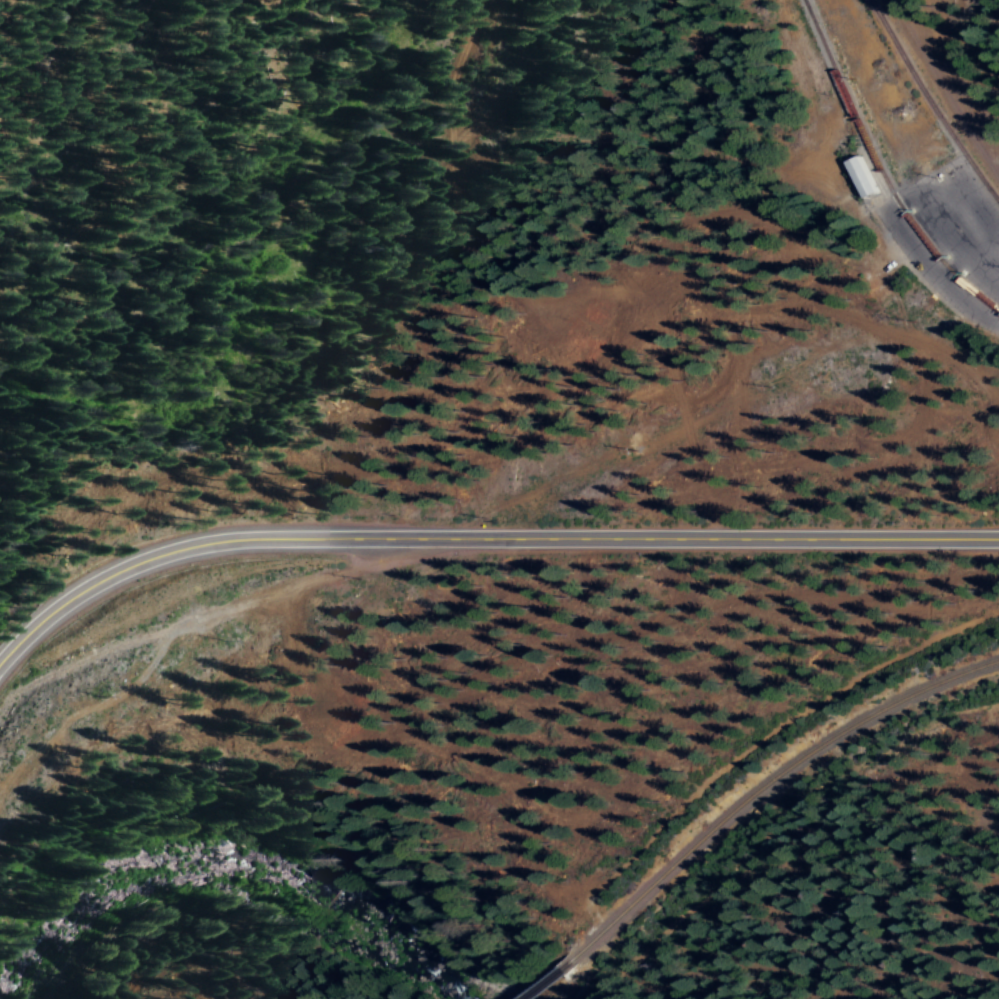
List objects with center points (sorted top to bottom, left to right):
railway: (931, 102)
railway: (881, 169)
building: (858, 175)
road: (932, 267)
road: (595, 338)
road: (485, 540)
railway: (766, 787)
railway: (546, 981)

